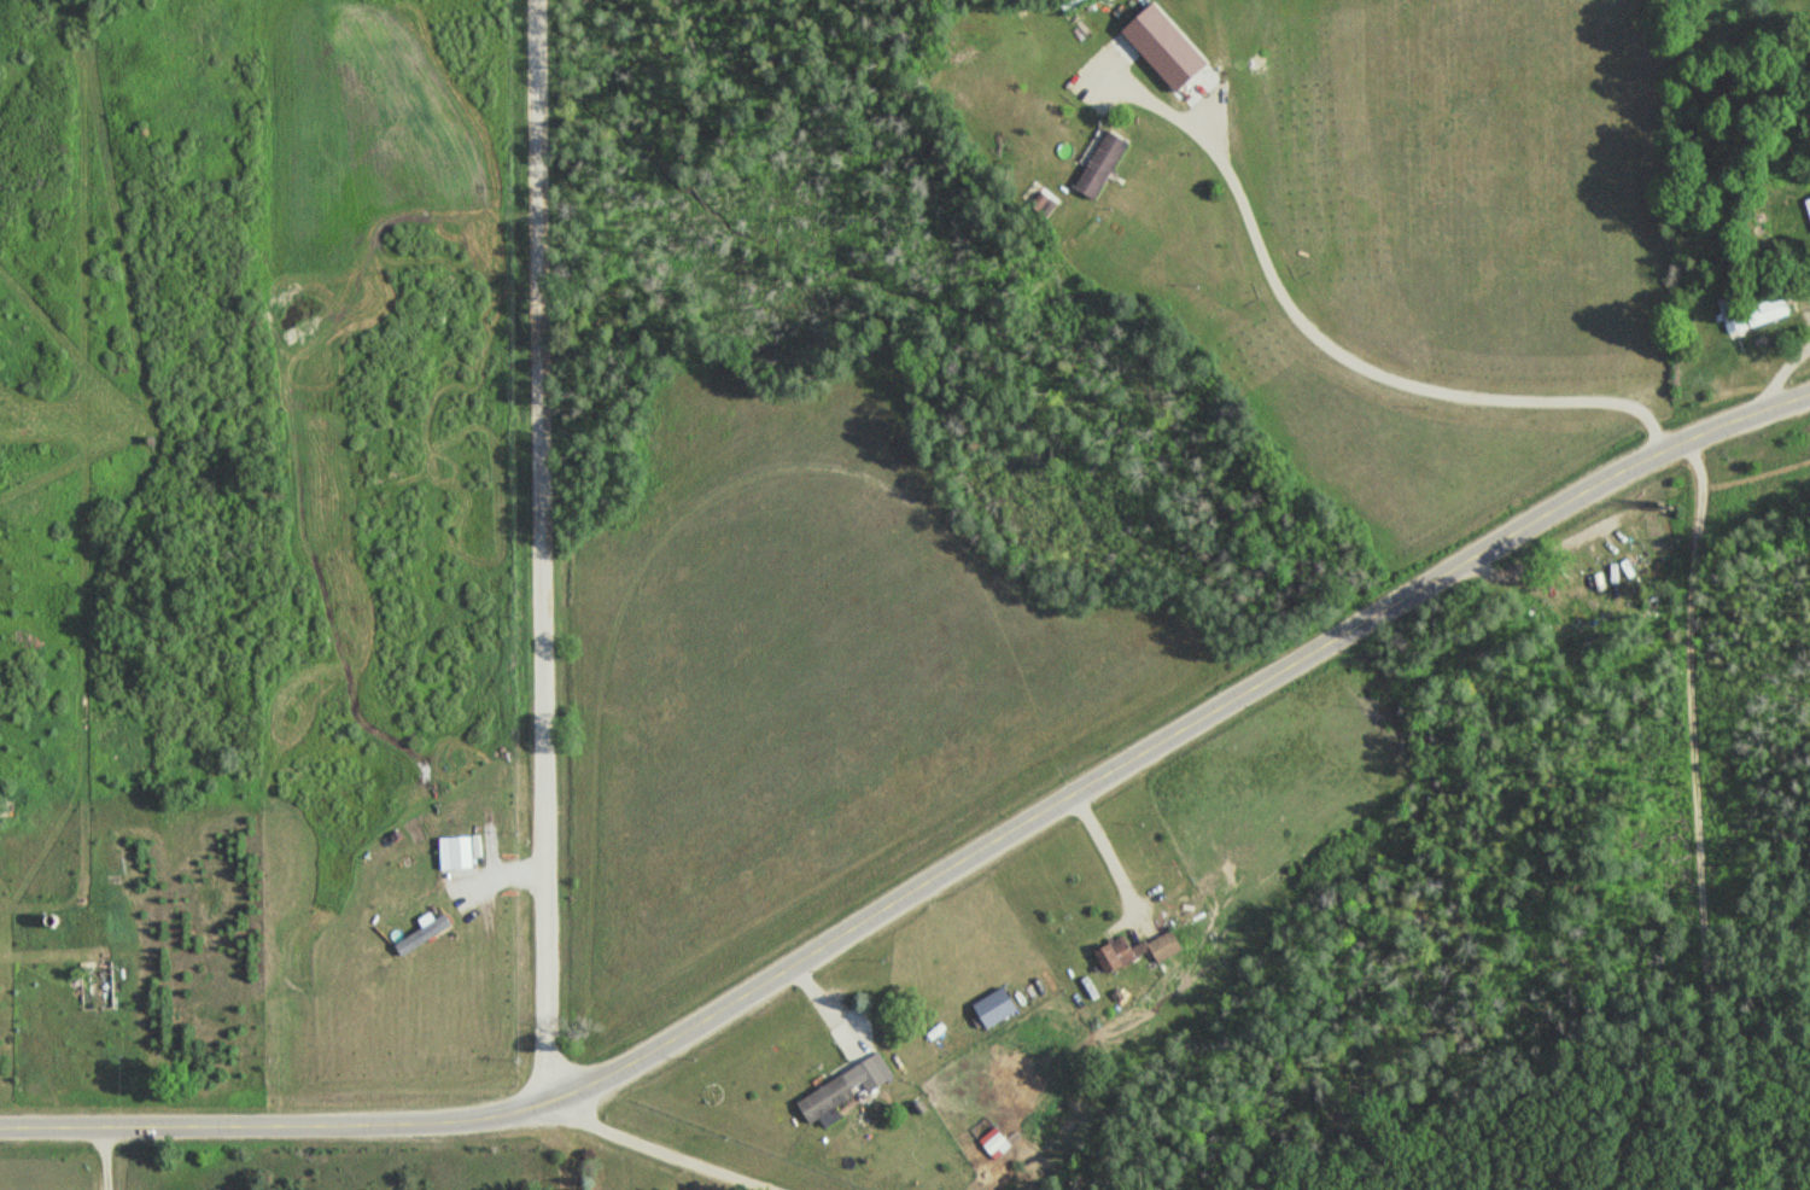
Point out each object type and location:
building: (1073, 2)
road: (510, 24)
building: (1107, 164)
building: (1808, 204)
building: (1756, 311)
road: (548, 550)
road: (1695, 826)
road: (940, 881)
building: (1174, 943)
building: (1122, 955)
building: (1000, 1005)
building: (847, 1087)
road: (653, 1143)
building: (1002, 1143)
road: (1718, 1153)
road: (1771, 1176)
road: (751, 1188)
road: (759, 1188)

